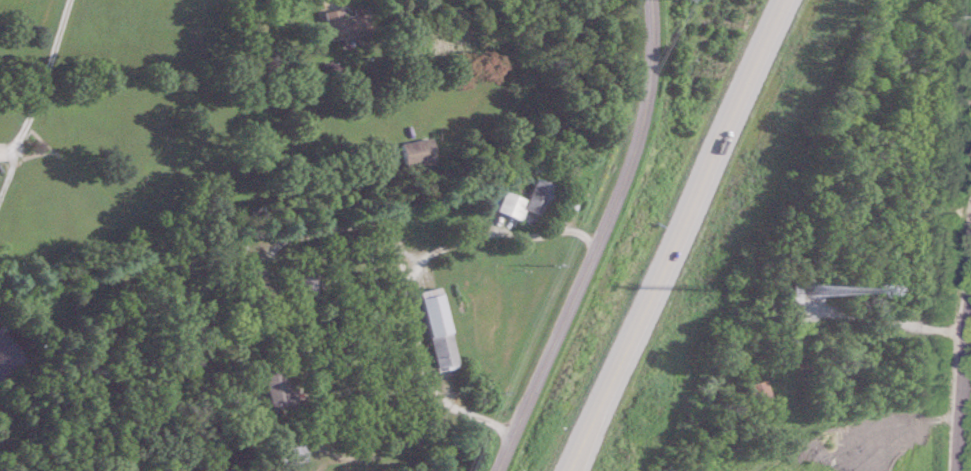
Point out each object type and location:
building: (348, 24)
road: (39, 94)
building: (420, 153)
building: (529, 201)
road: (607, 222)
road: (351, 224)
road: (507, 232)
building: (915, 234)
road: (680, 235)
building: (306, 285)
building: (260, 293)
road: (896, 319)
building: (440, 328)
road: (960, 365)
road: (426, 370)
building: (276, 387)
road: (398, 448)
road: (507, 453)
building: (291, 455)

